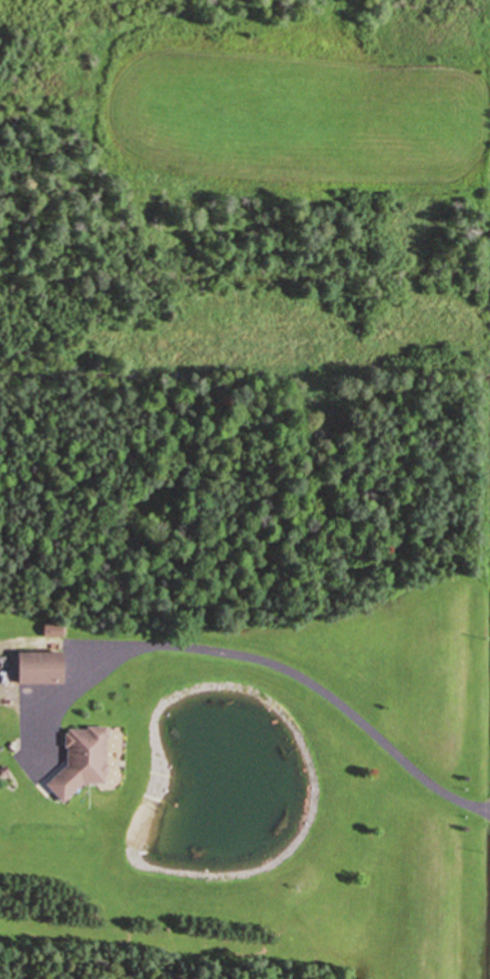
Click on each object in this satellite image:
building: (46, 667)
road: (304, 679)
building: (85, 761)

